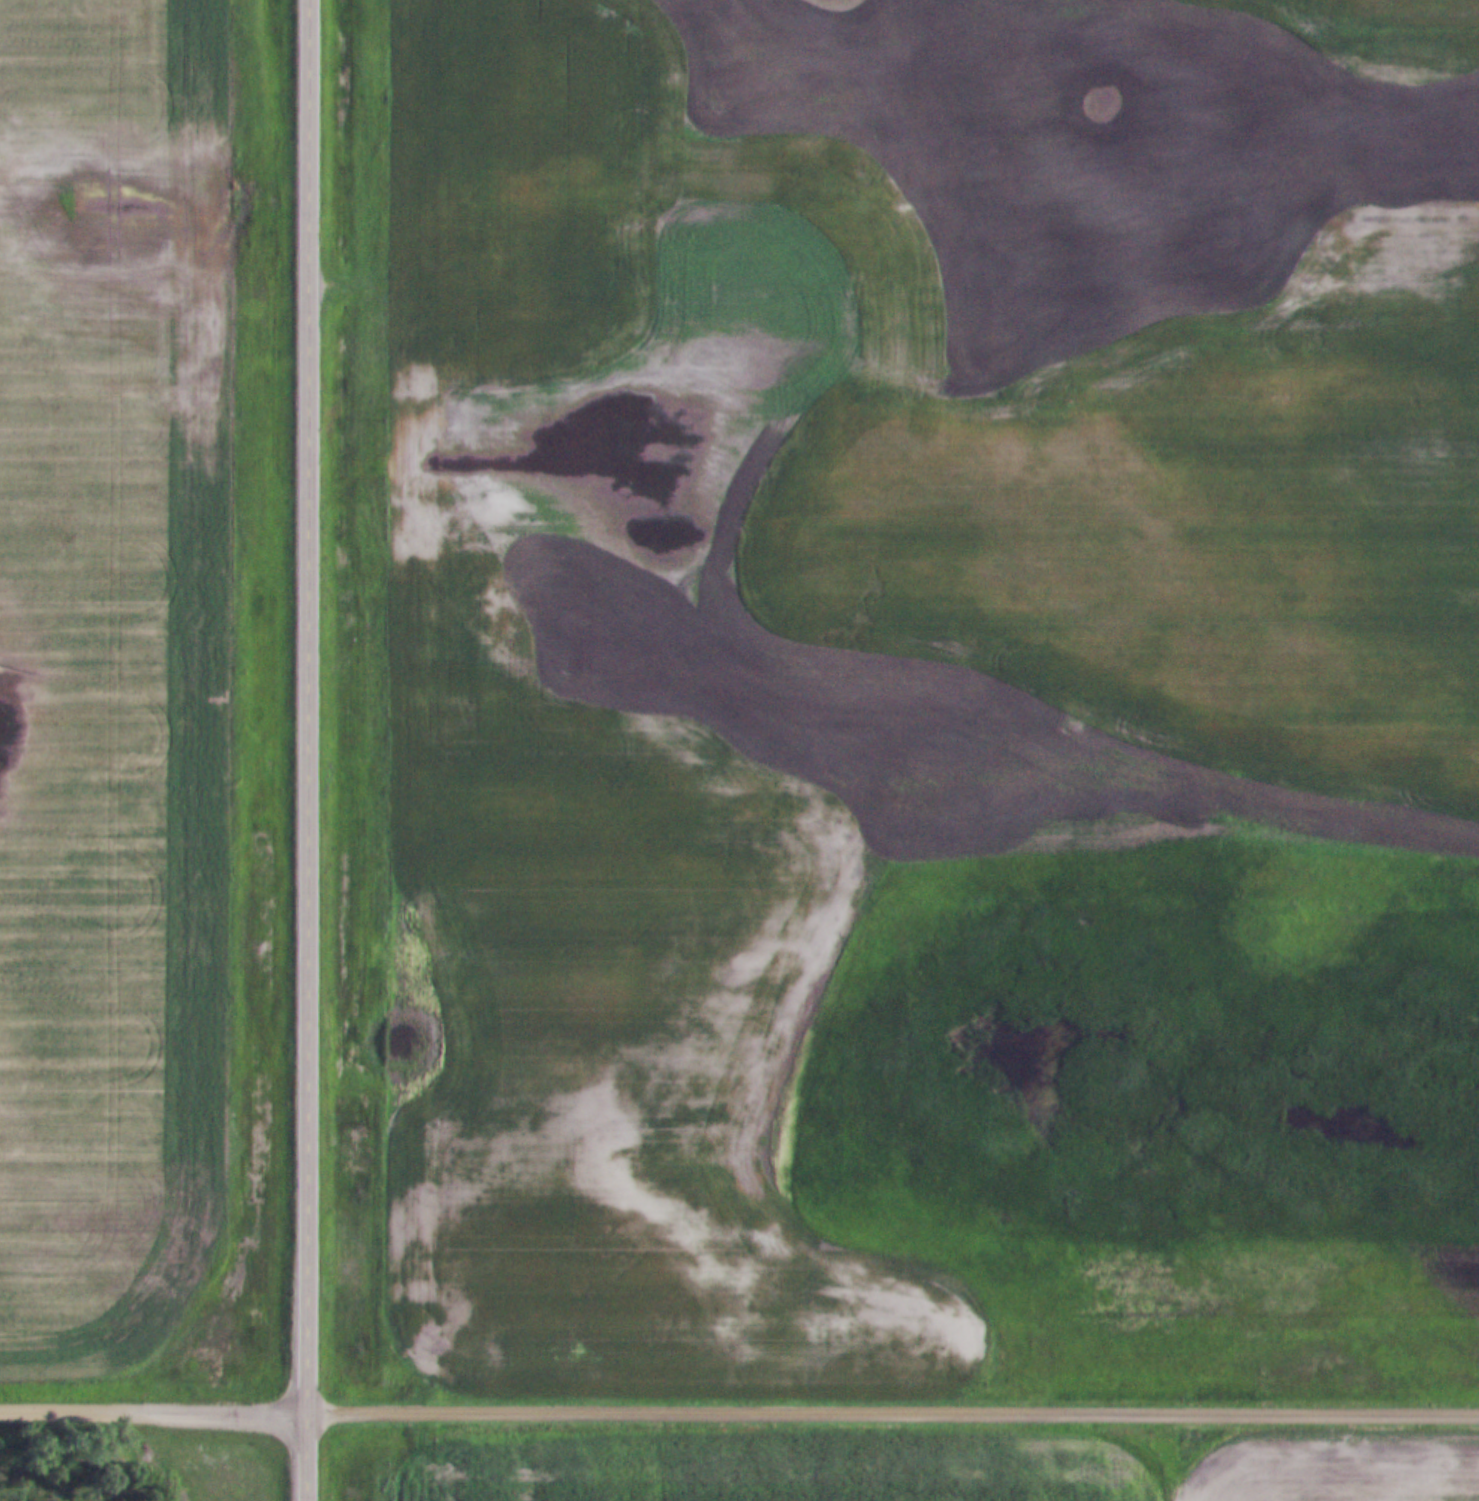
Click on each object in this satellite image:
road: (306, 750)
road: (739, 1413)

